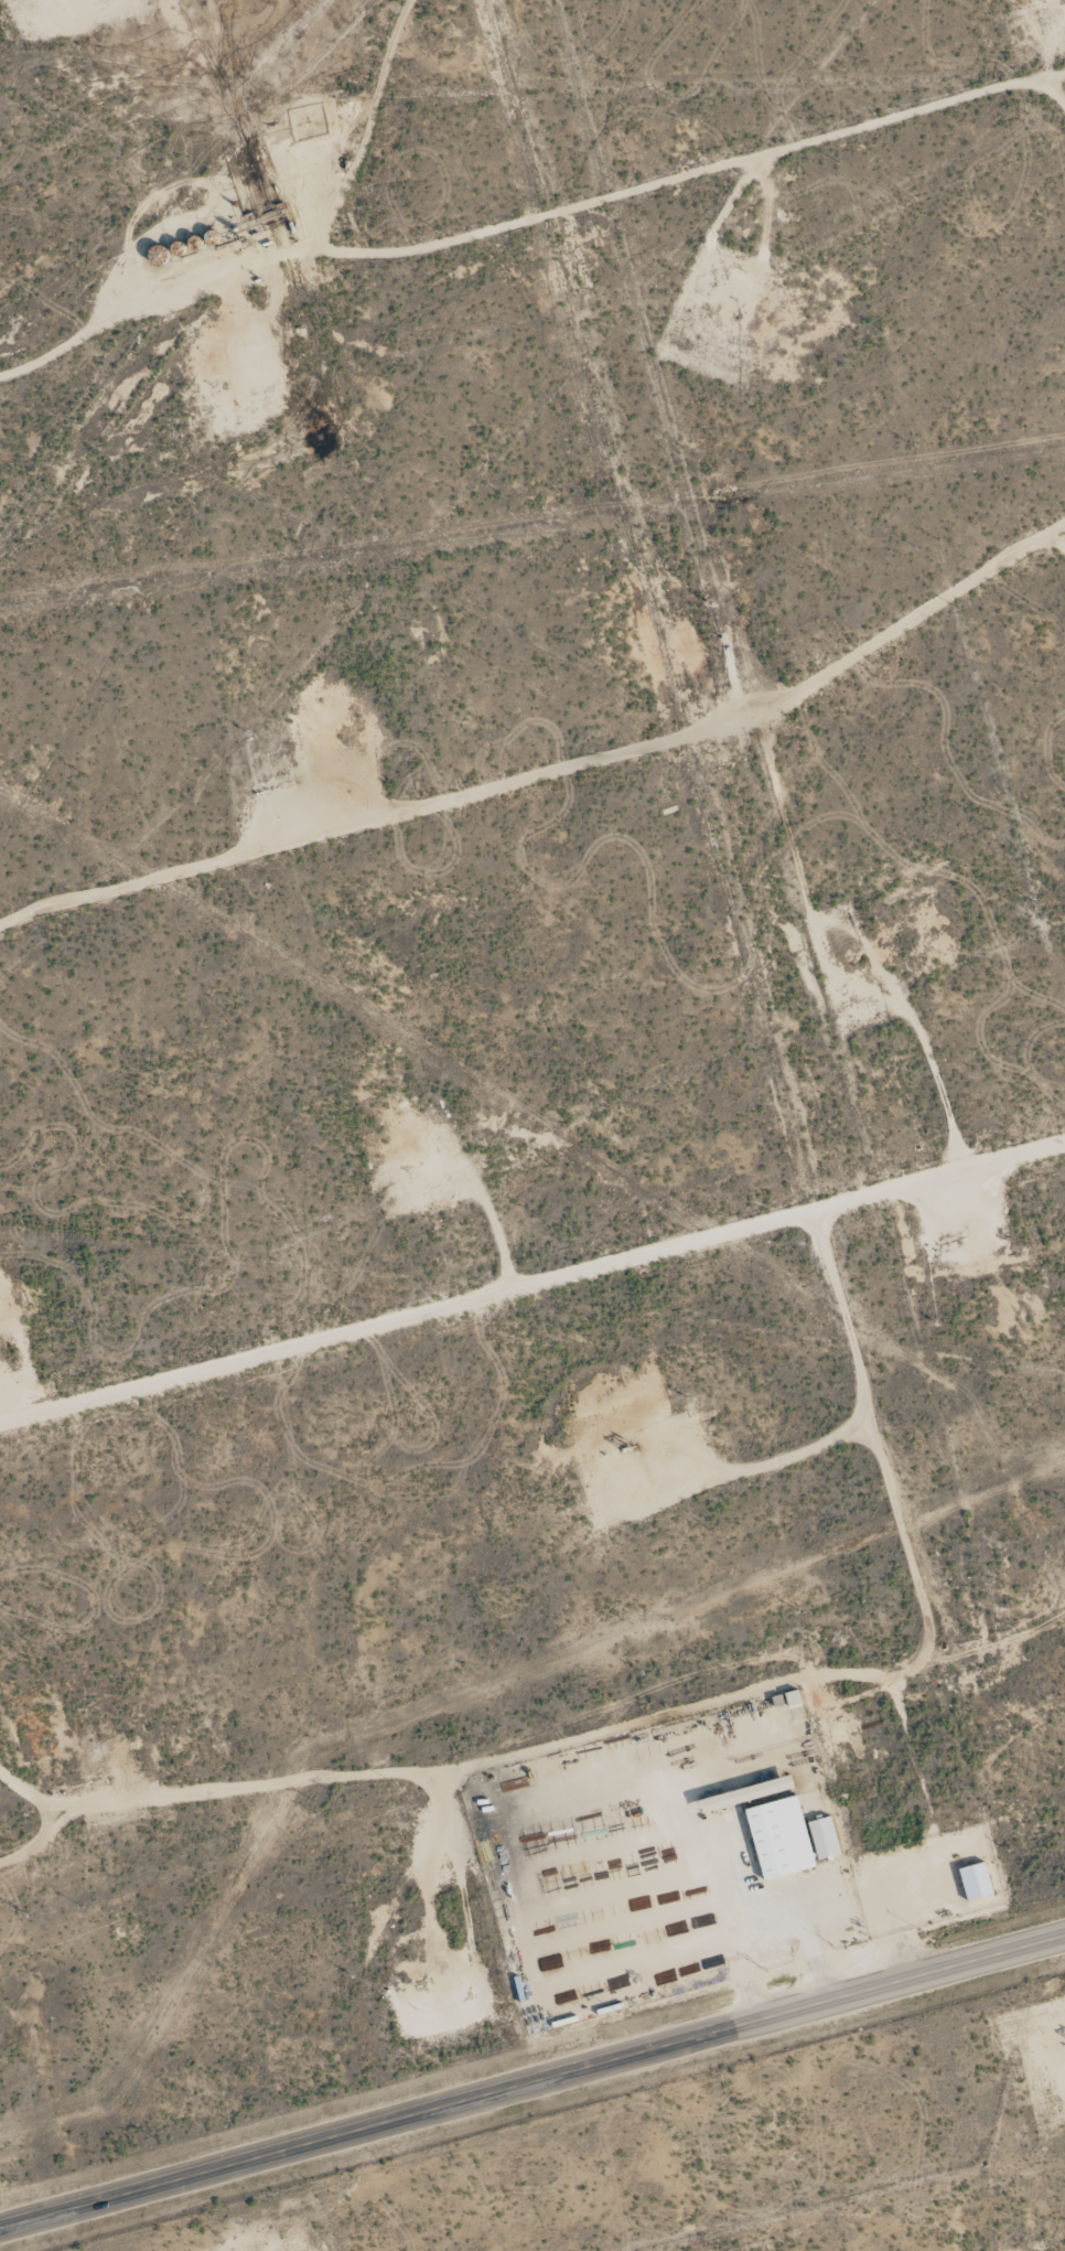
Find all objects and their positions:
building: (789, 1702)
building: (779, 1836)
building: (824, 1836)
building: (975, 1880)
road: (531, 2080)

